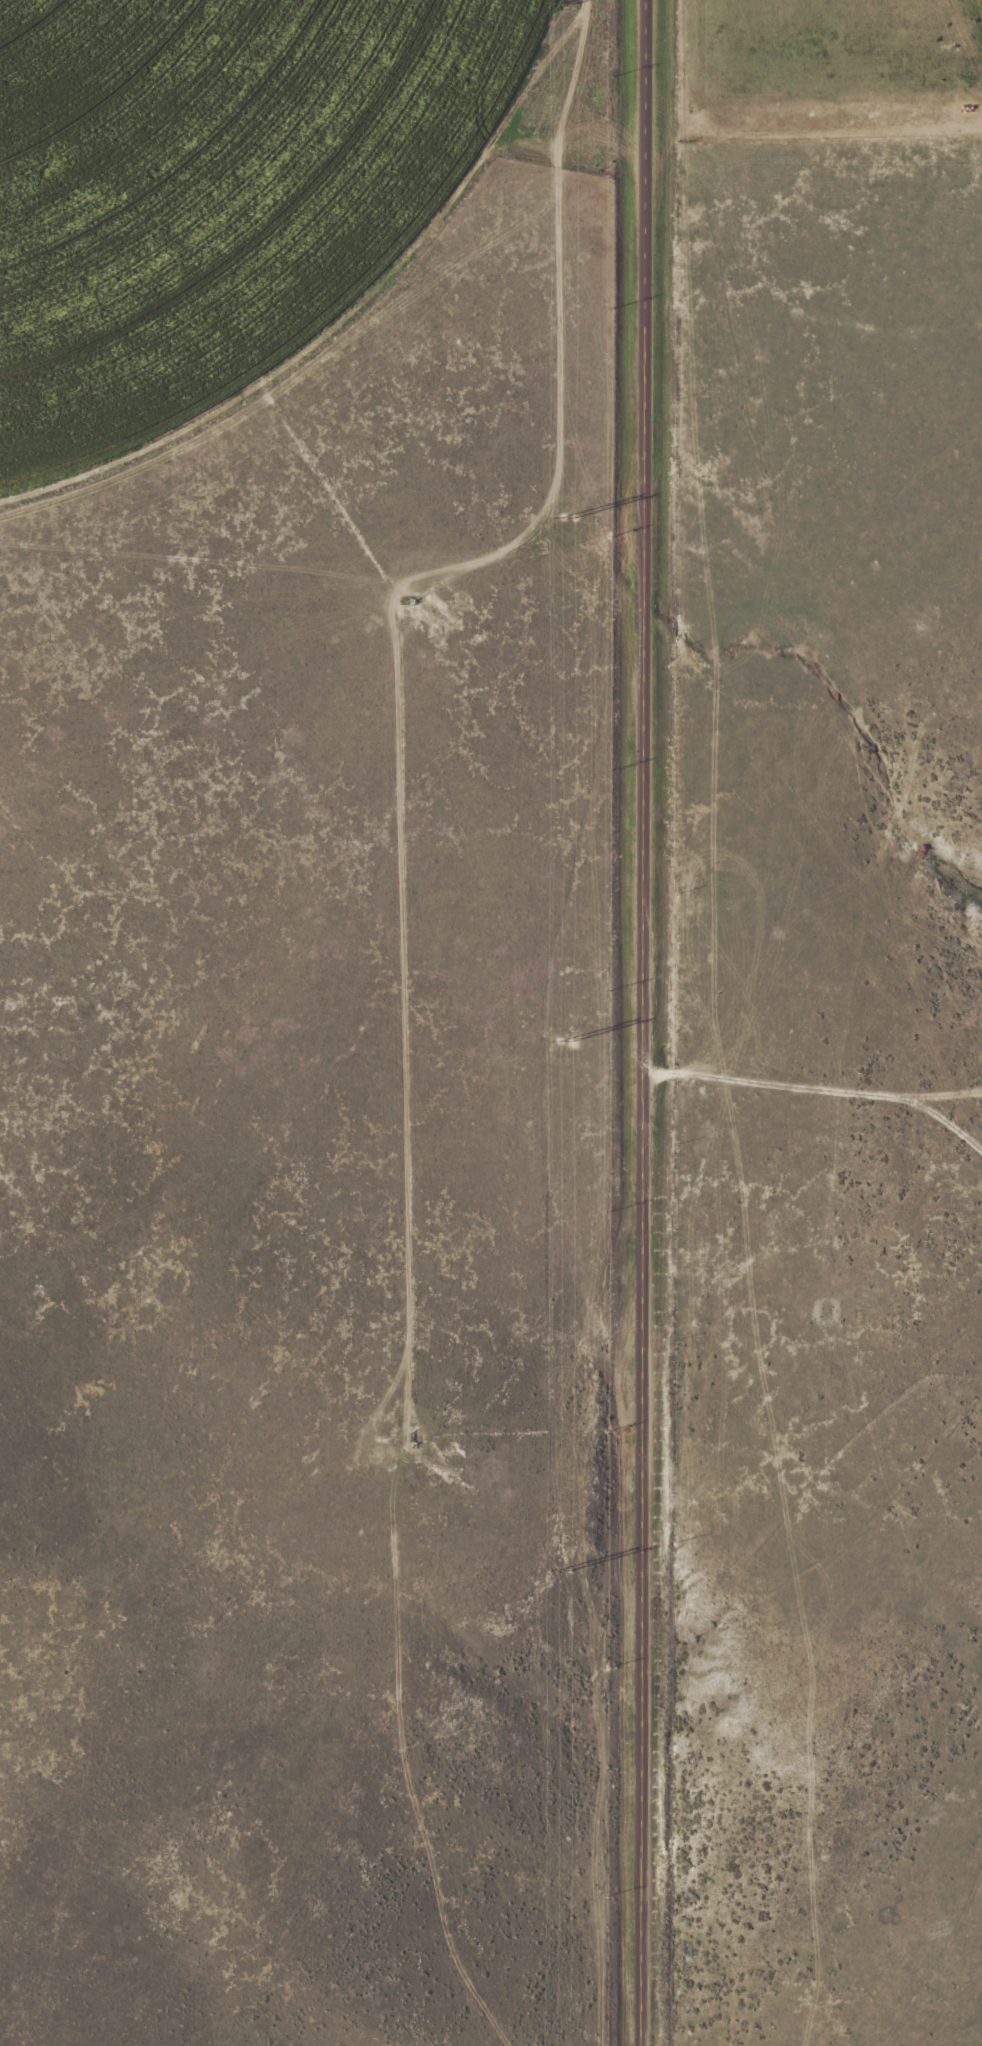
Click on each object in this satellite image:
power tower: (568, 5)
power tower: (567, 518)
road: (645, 1023)
power tower: (563, 1043)
power tower: (563, 1572)

